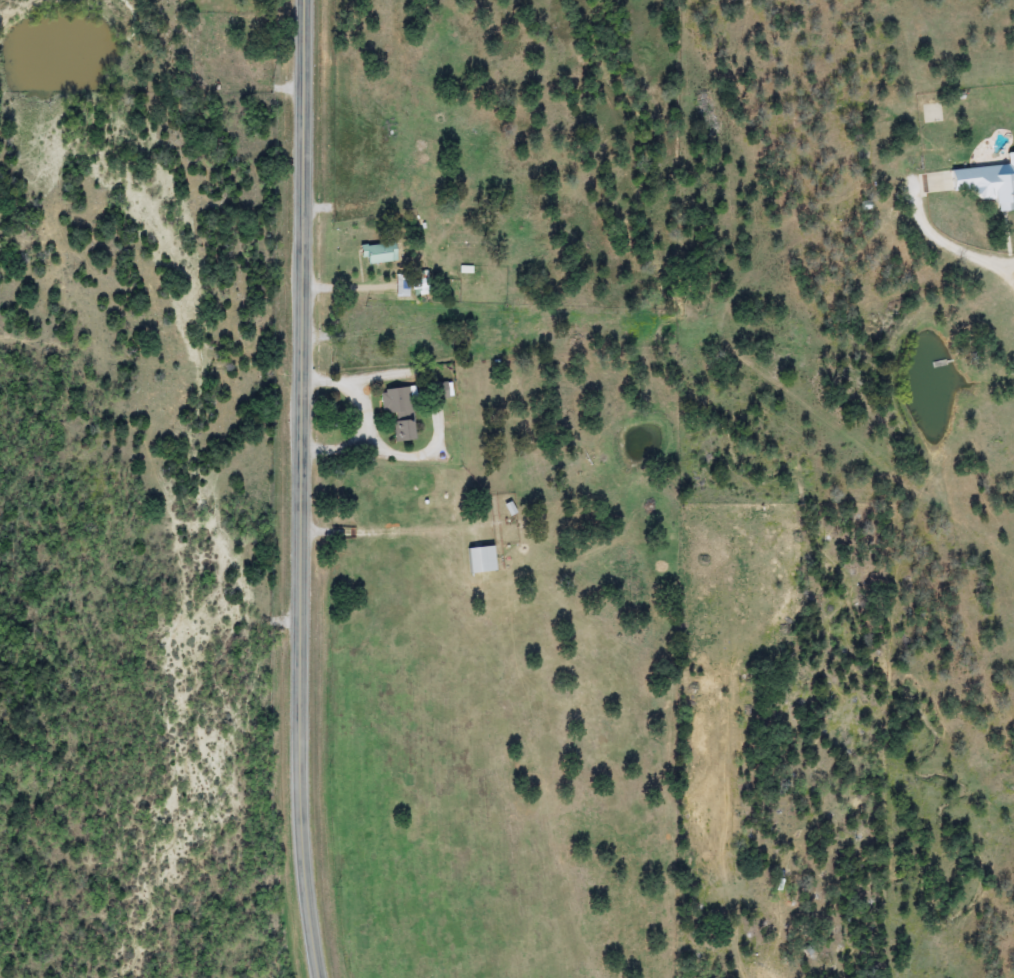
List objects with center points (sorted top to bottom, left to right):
building: (936, 182)
building: (987, 182)
road: (950, 251)
building: (378, 253)
building: (411, 284)
road: (363, 409)
building: (399, 411)
road: (295, 489)
building: (482, 559)

